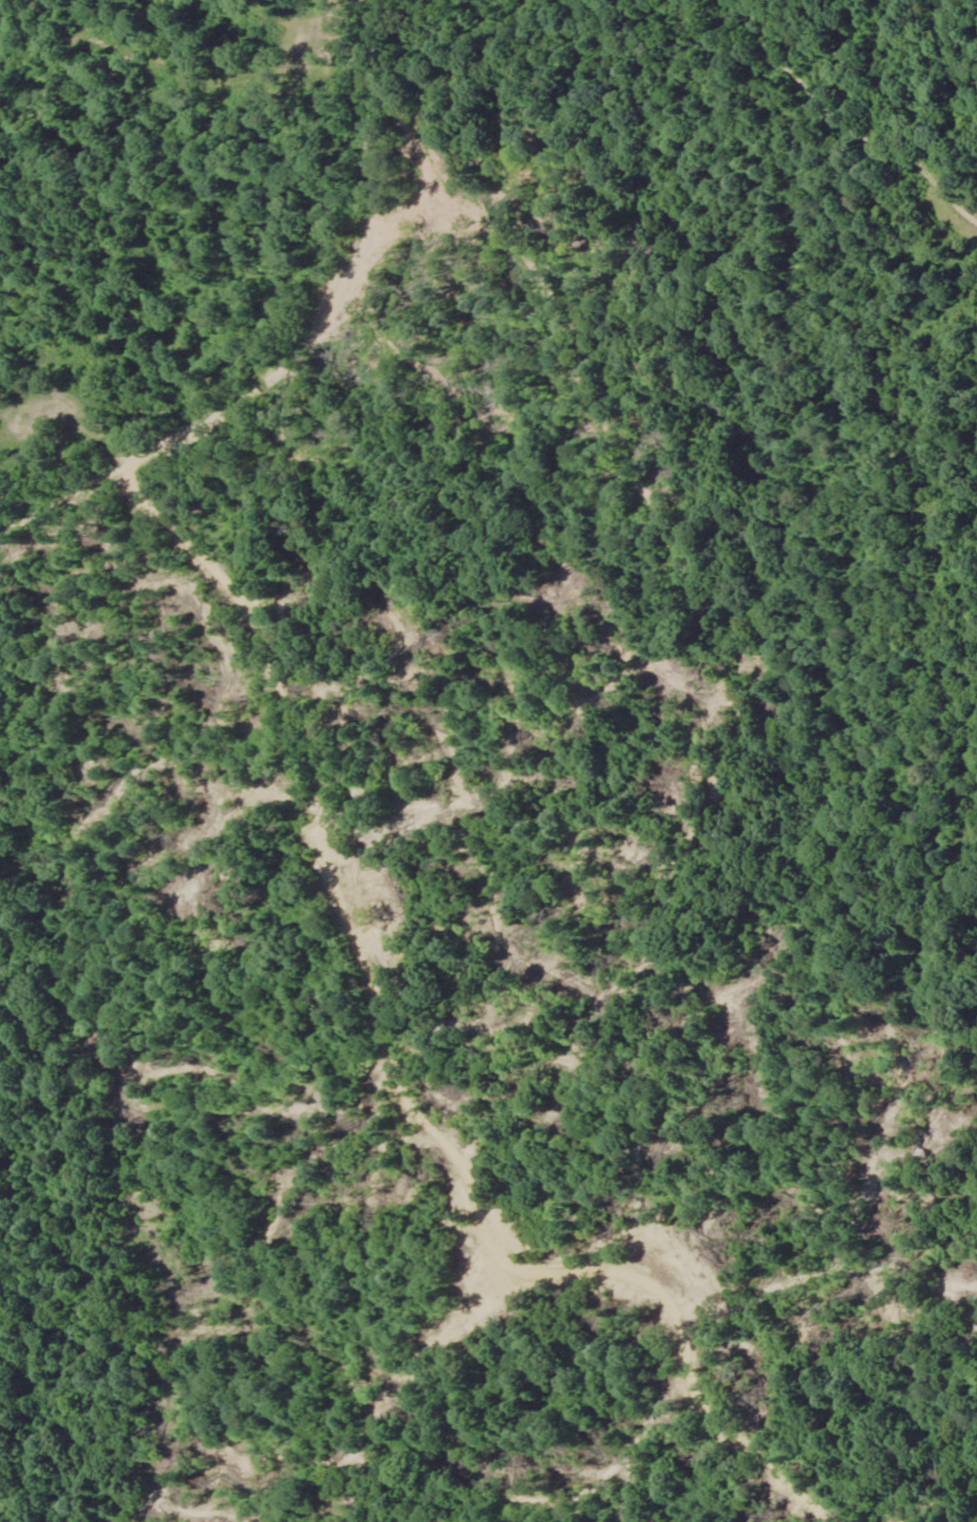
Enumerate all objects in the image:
road: (287, 345)

